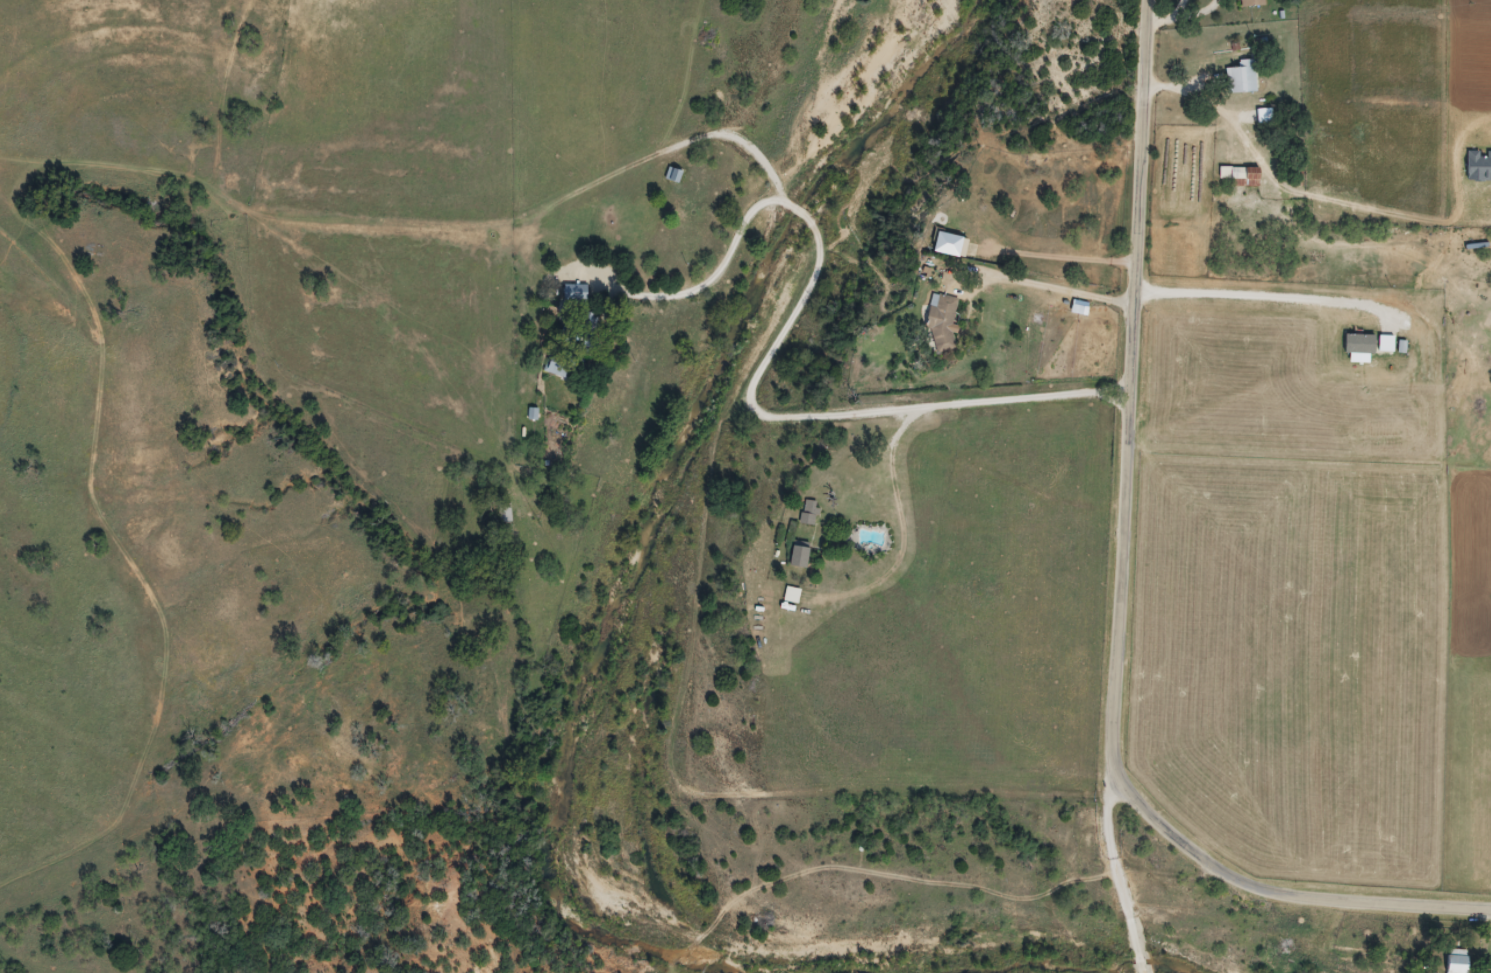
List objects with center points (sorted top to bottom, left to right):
building: (1252, 3)
building: (1242, 79)
building: (674, 175)
building: (1242, 175)
building: (951, 244)
building: (576, 294)
building: (944, 323)
building: (561, 364)
building: (505, 513)
building: (811, 513)
building: (801, 555)
road: (1174, 578)
road: (776, 624)
building: (1460, 960)

